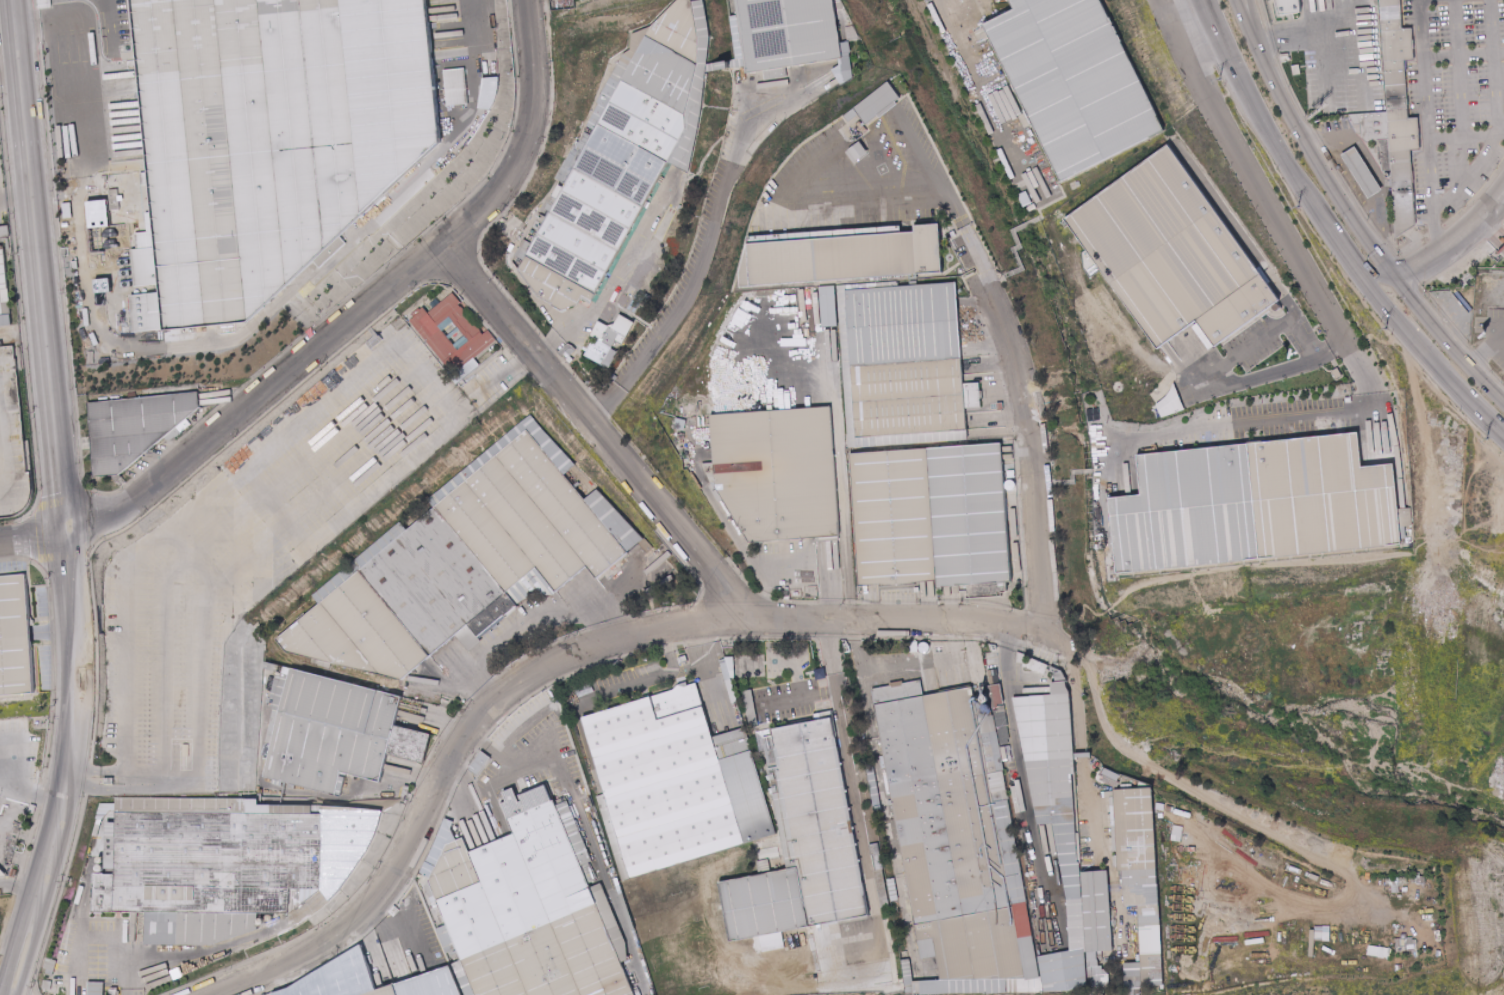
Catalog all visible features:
power tower: (1218, 79)
gas station: (1357, 170)
power tower: (1298, 206)
power tower: (1386, 328)
power tower: (1487, 438)

